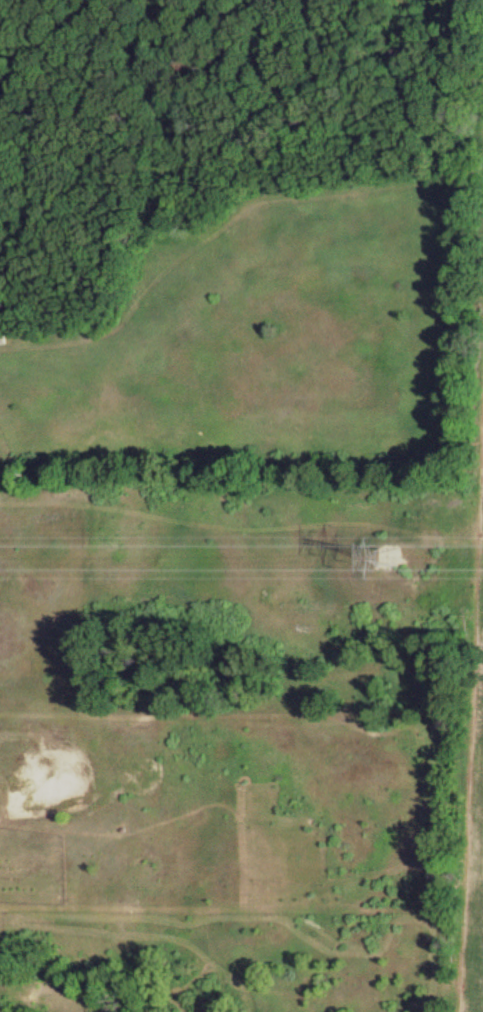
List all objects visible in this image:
power tower: (392, 554)

